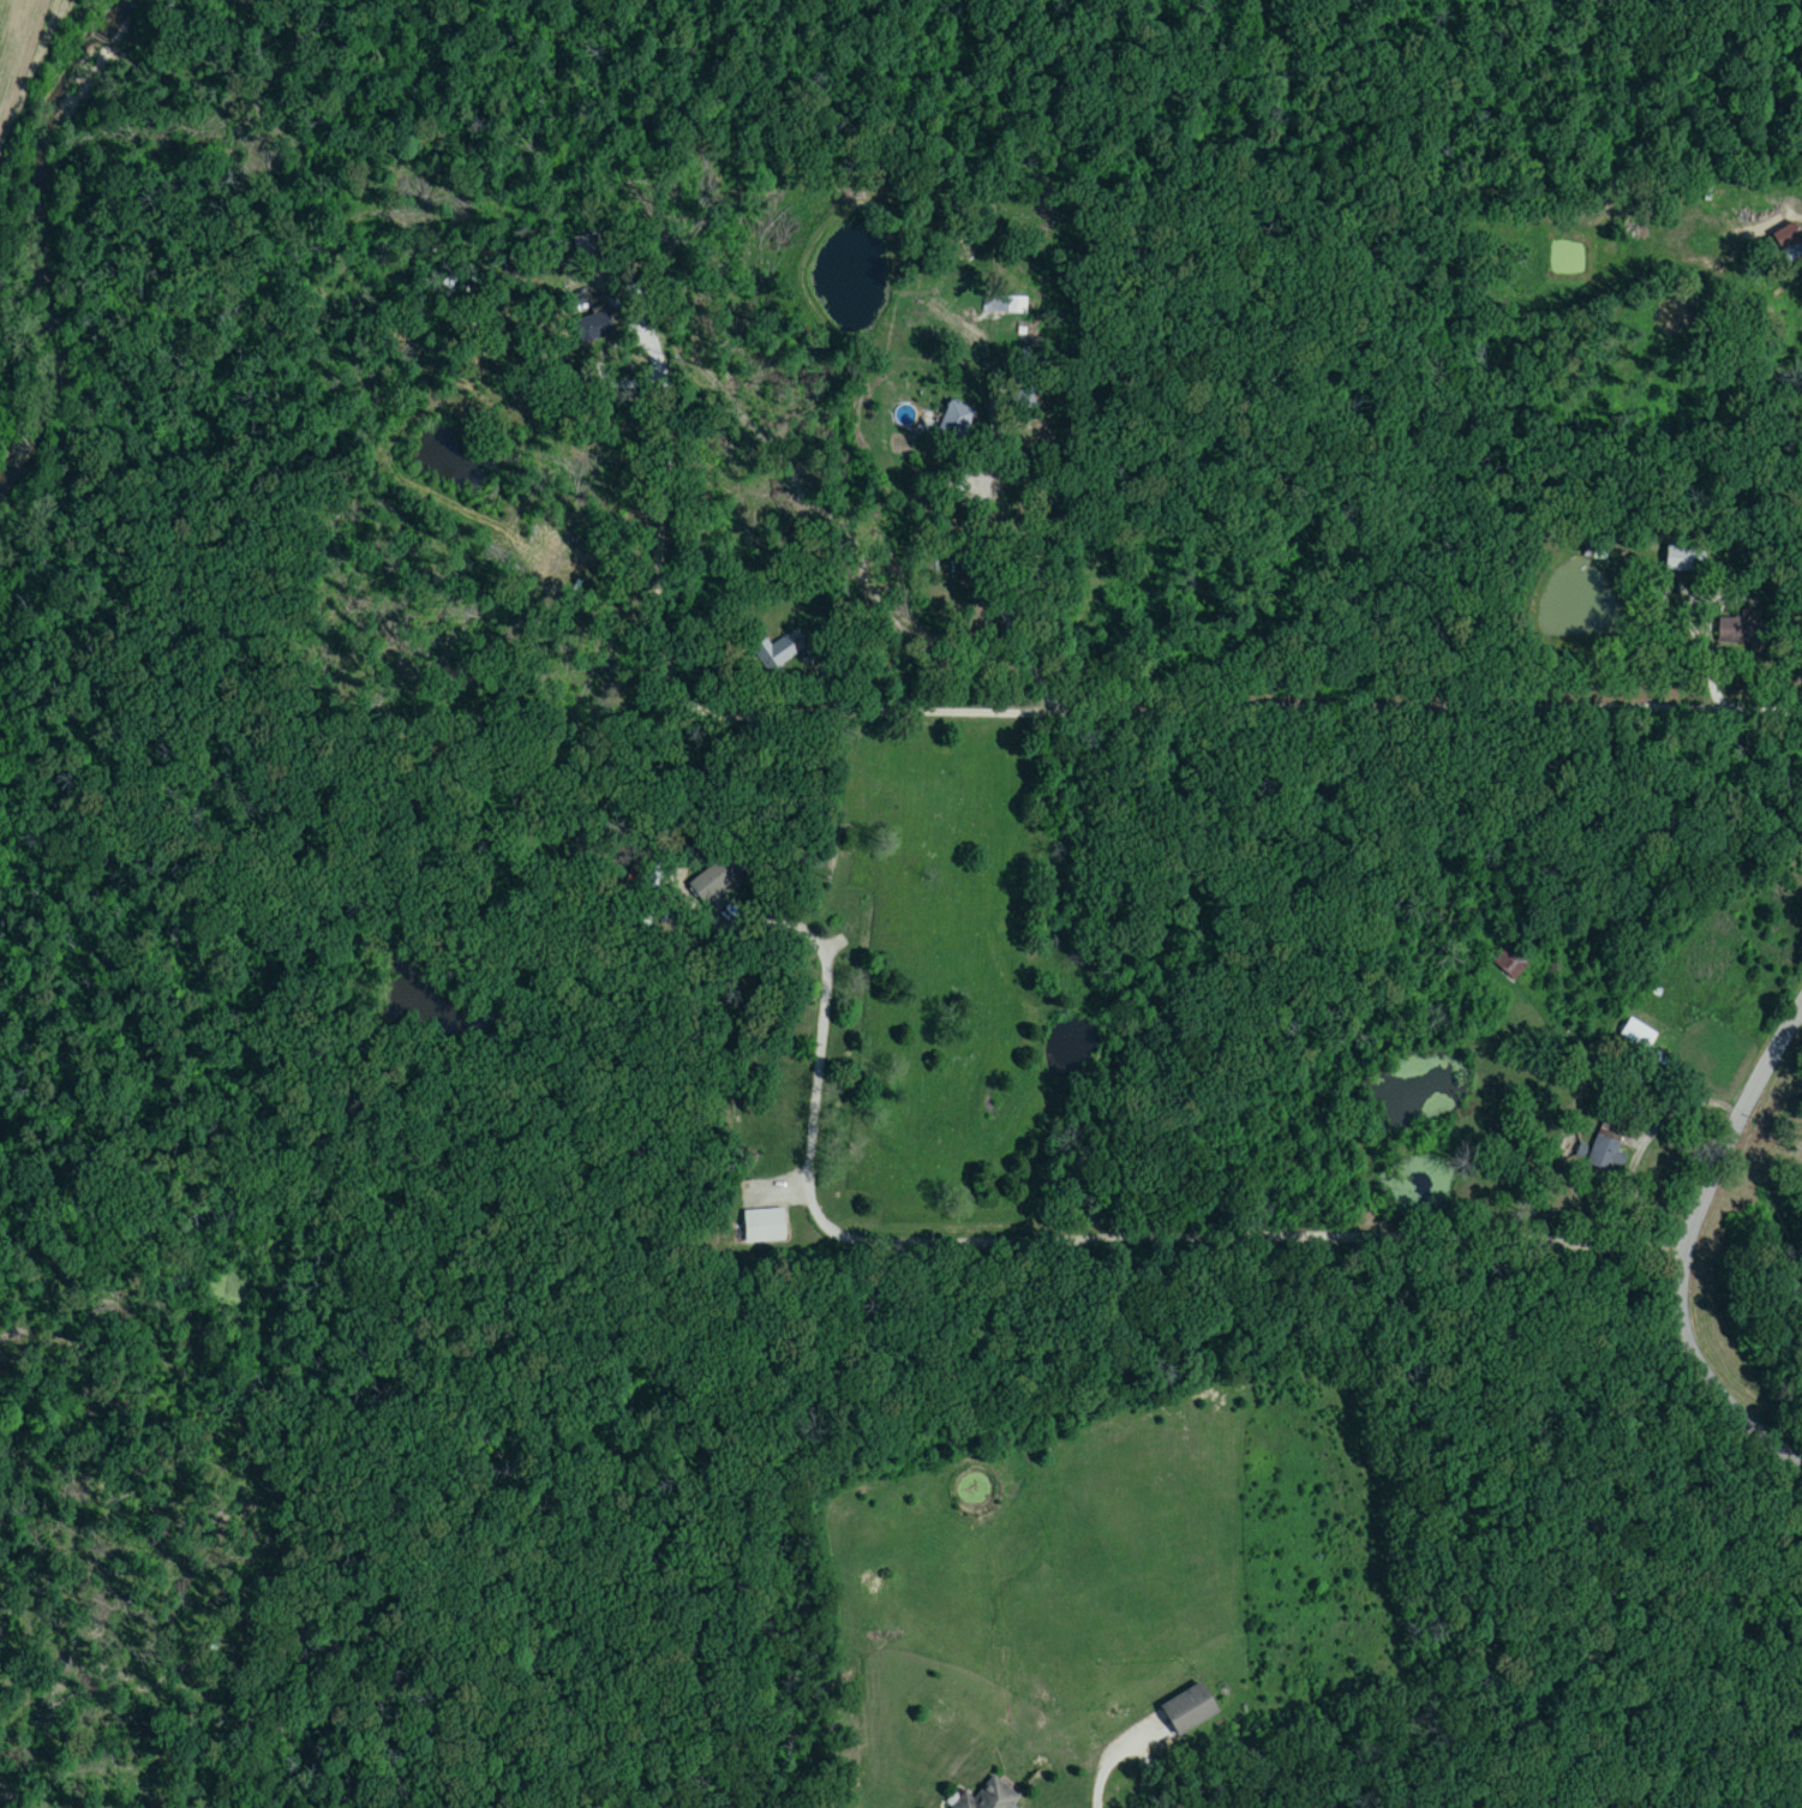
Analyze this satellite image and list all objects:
building: (1790, 243)
building: (1006, 305)
building: (593, 330)
building: (956, 421)
building: (1684, 559)
road: (647, 595)
road: (993, 597)
road: (1521, 618)
building: (1728, 629)
road: (1319, 708)
building: (1511, 963)
building: (1639, 1035)
building: (765, 1228)
road: (1110, 1239)
road: (1690, 1243)
building: (1189, 1711)
road: (1096, 1790)
building: (990, 1797)

